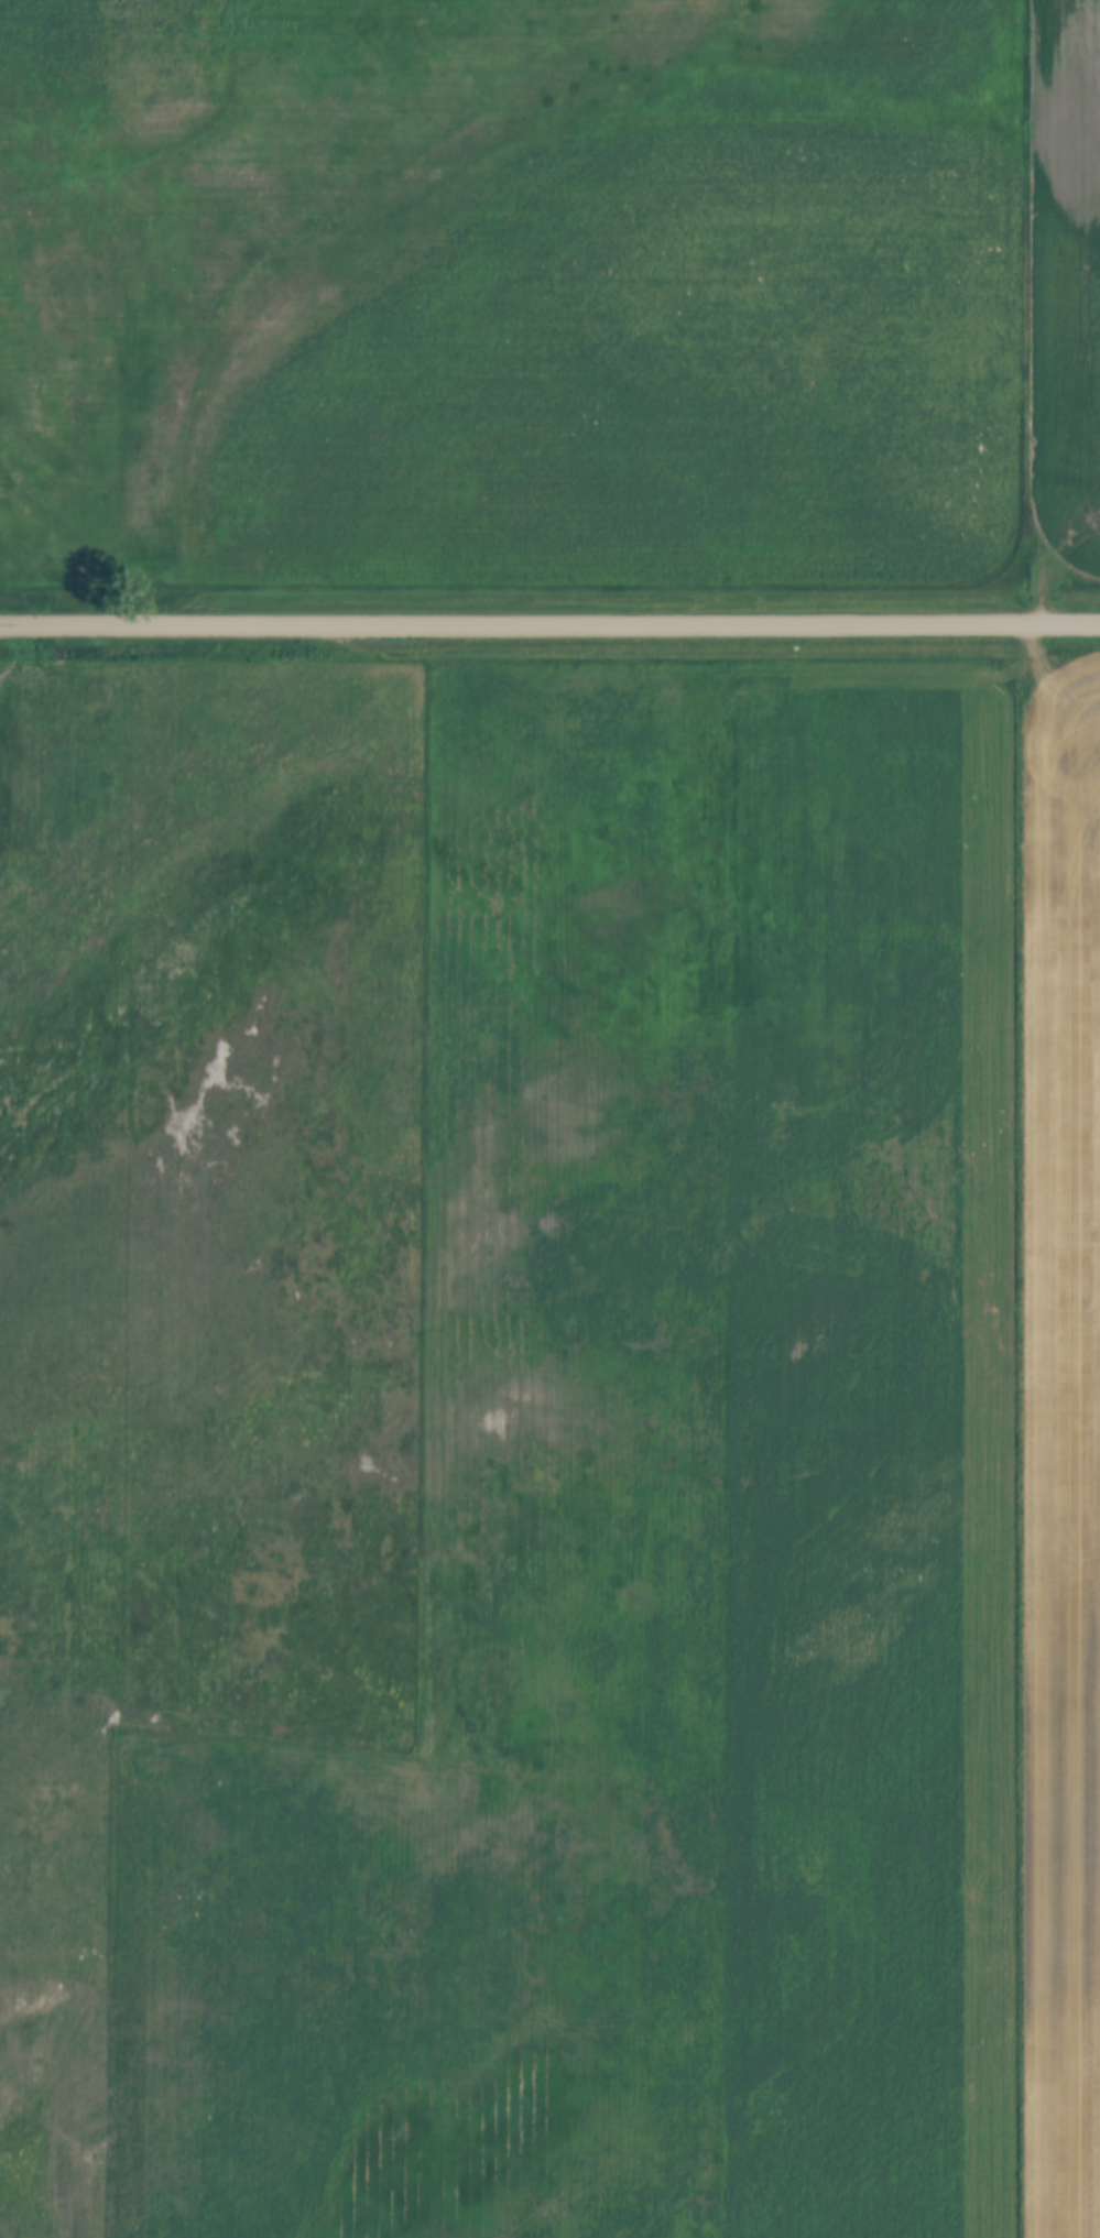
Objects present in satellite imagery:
road: (1041, 312)
road: (549, 624)

